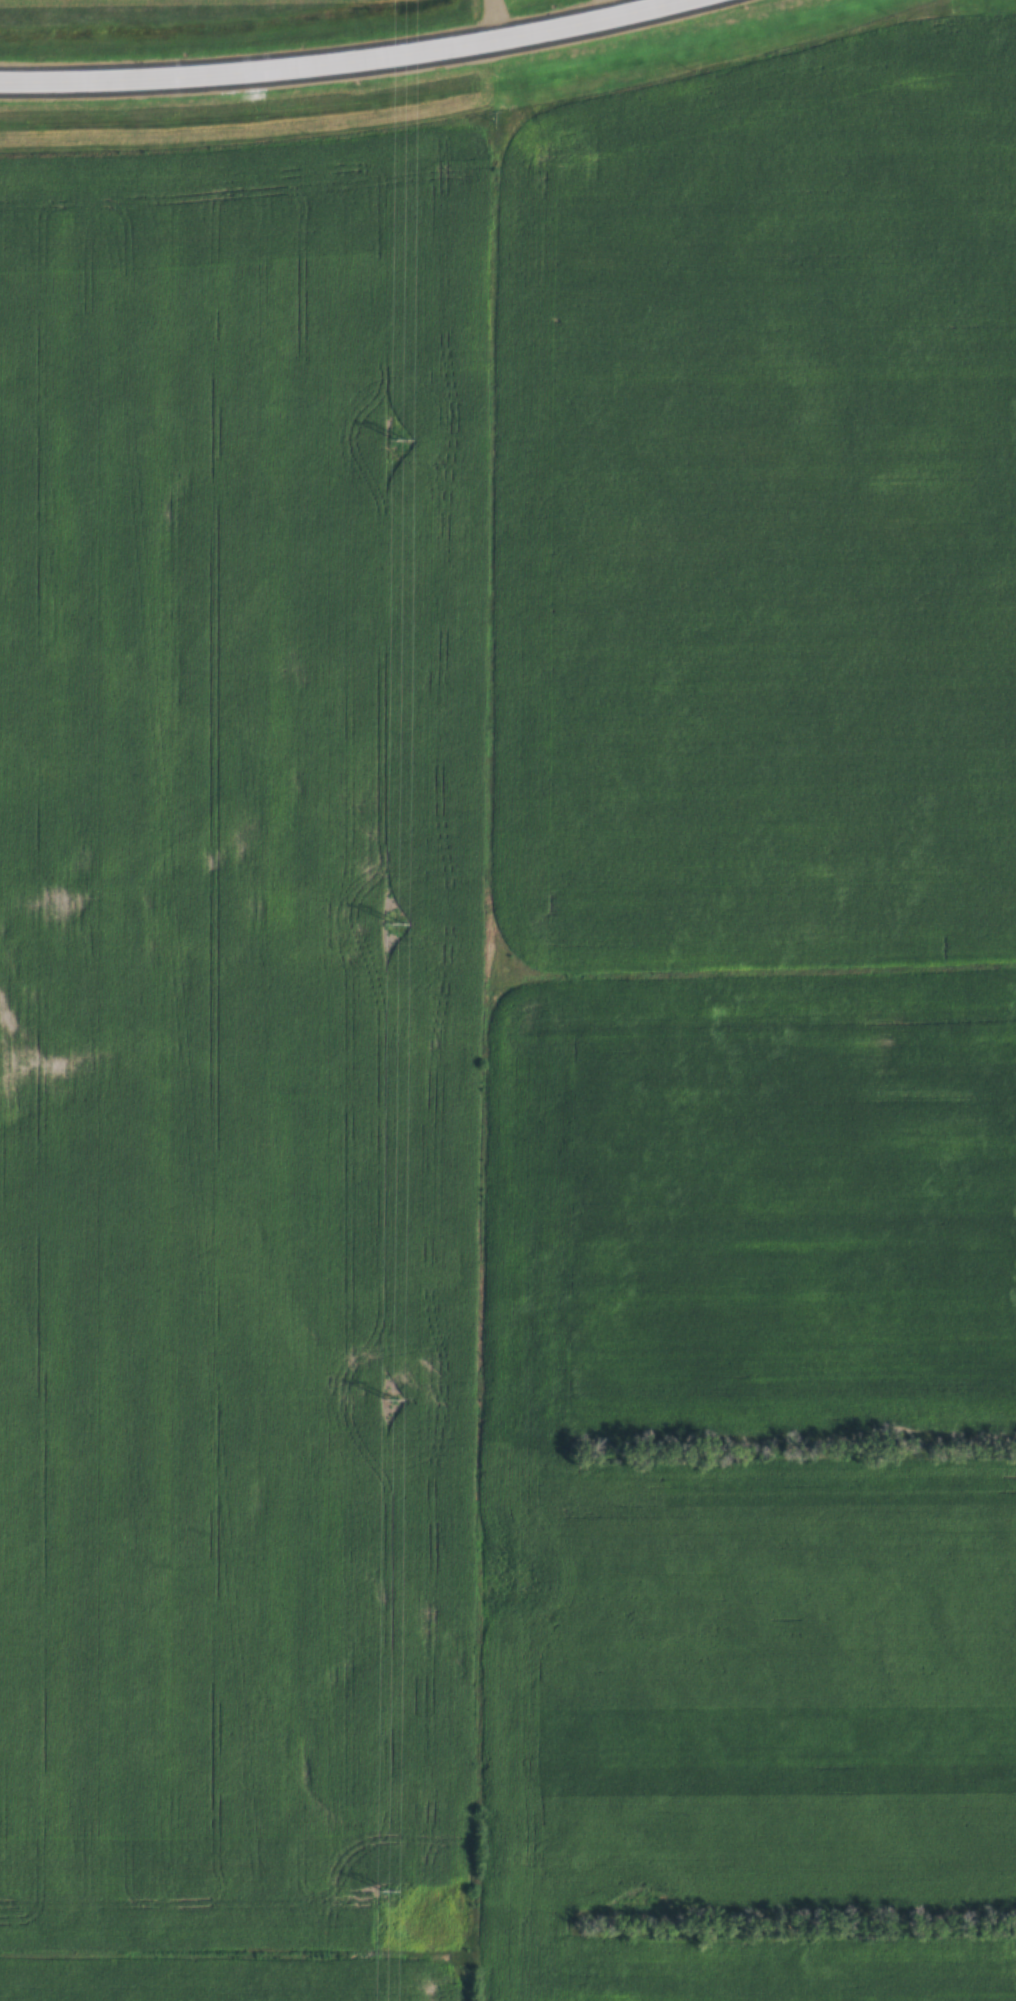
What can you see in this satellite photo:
road: (338, 57)
power tower: (401, 442)
power tower: (399, 925)
power tower: (393, 1398)
power tower: (388, 1891)

